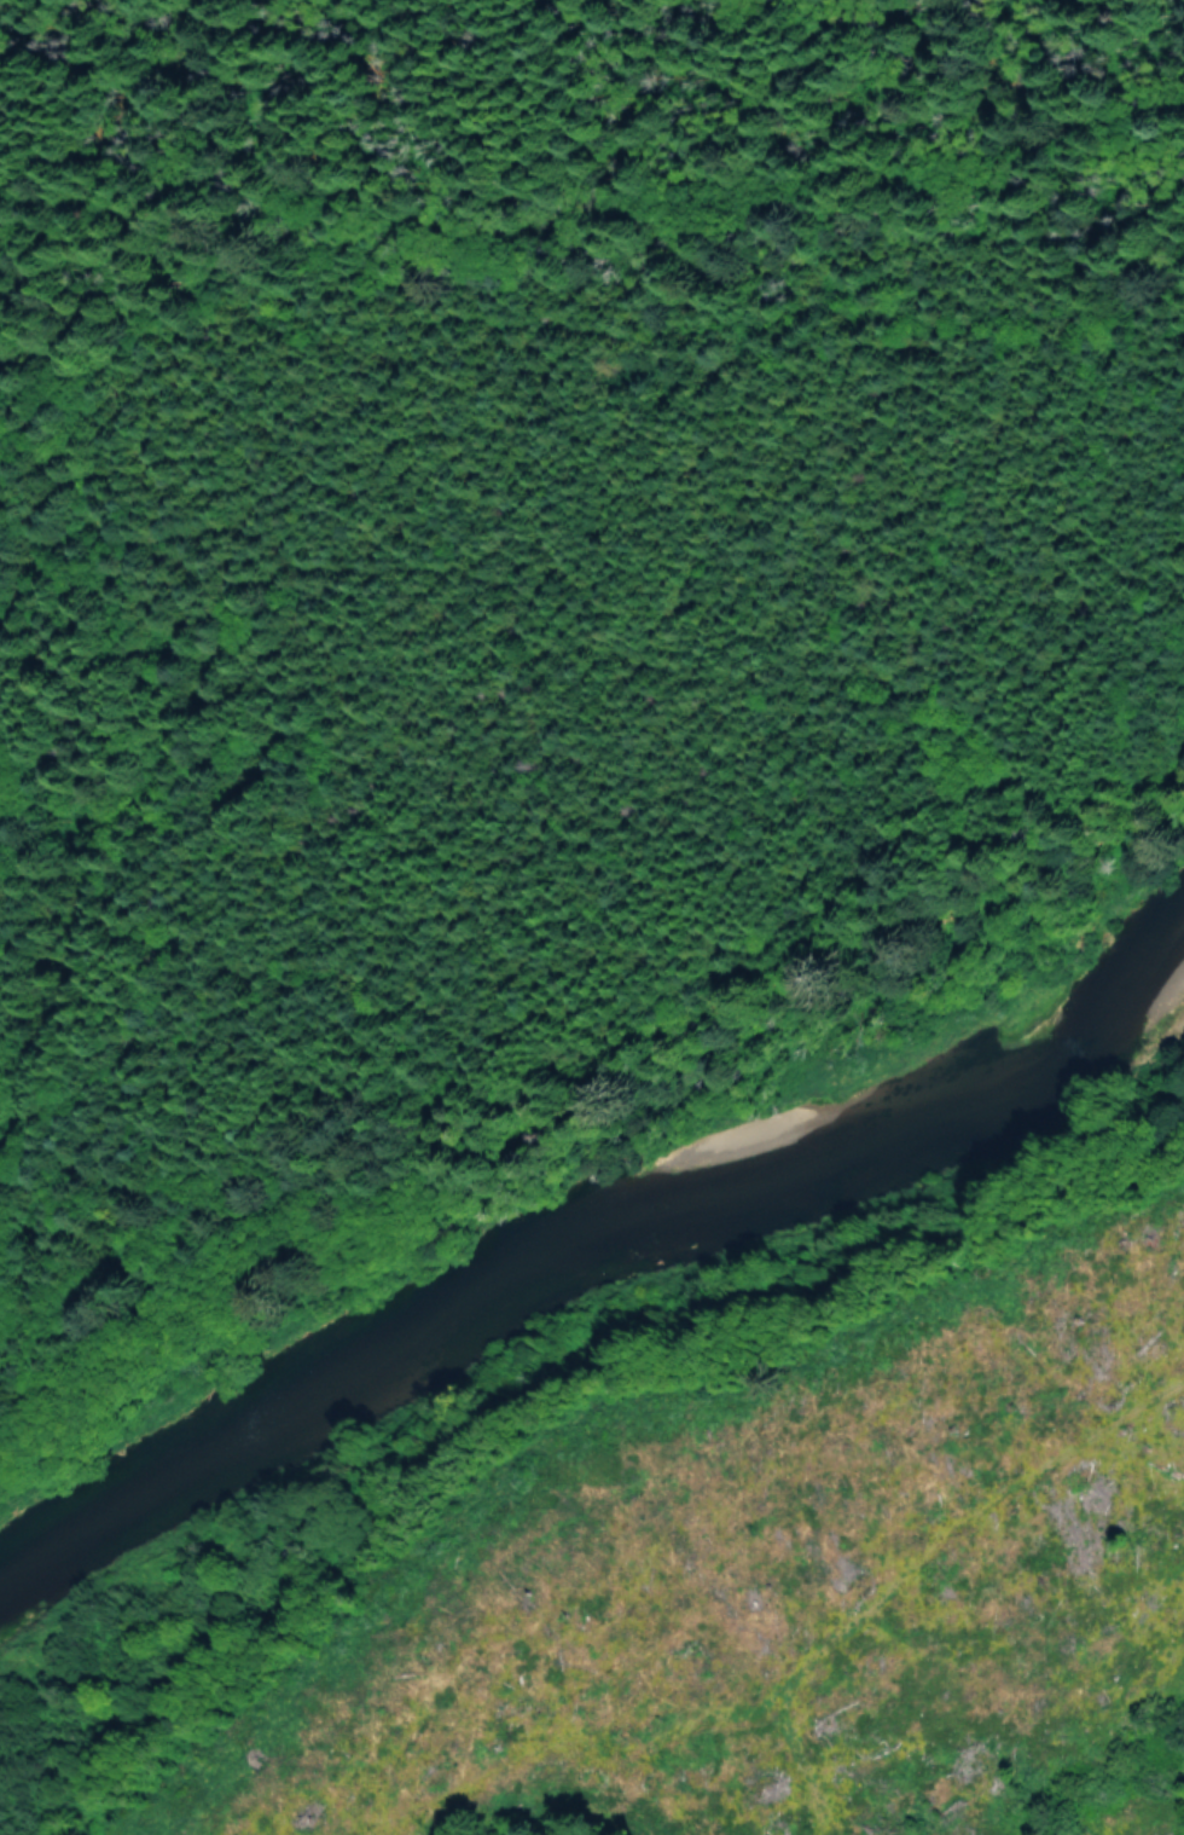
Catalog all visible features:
river: (599, 1257)

